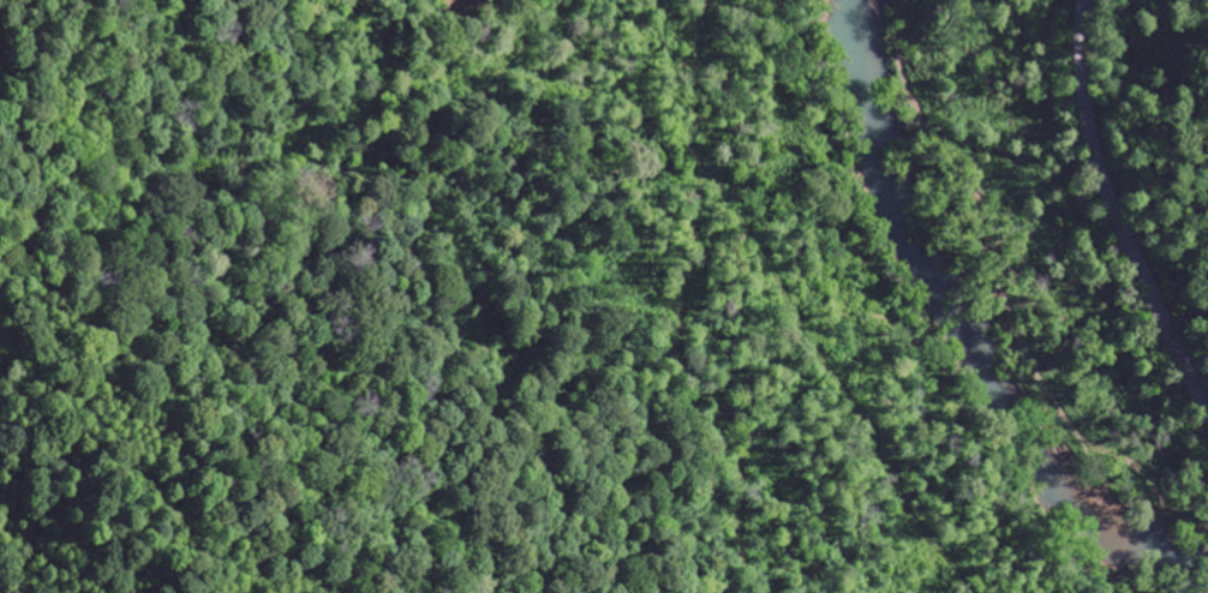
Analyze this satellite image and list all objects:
road: (1116, 210)

